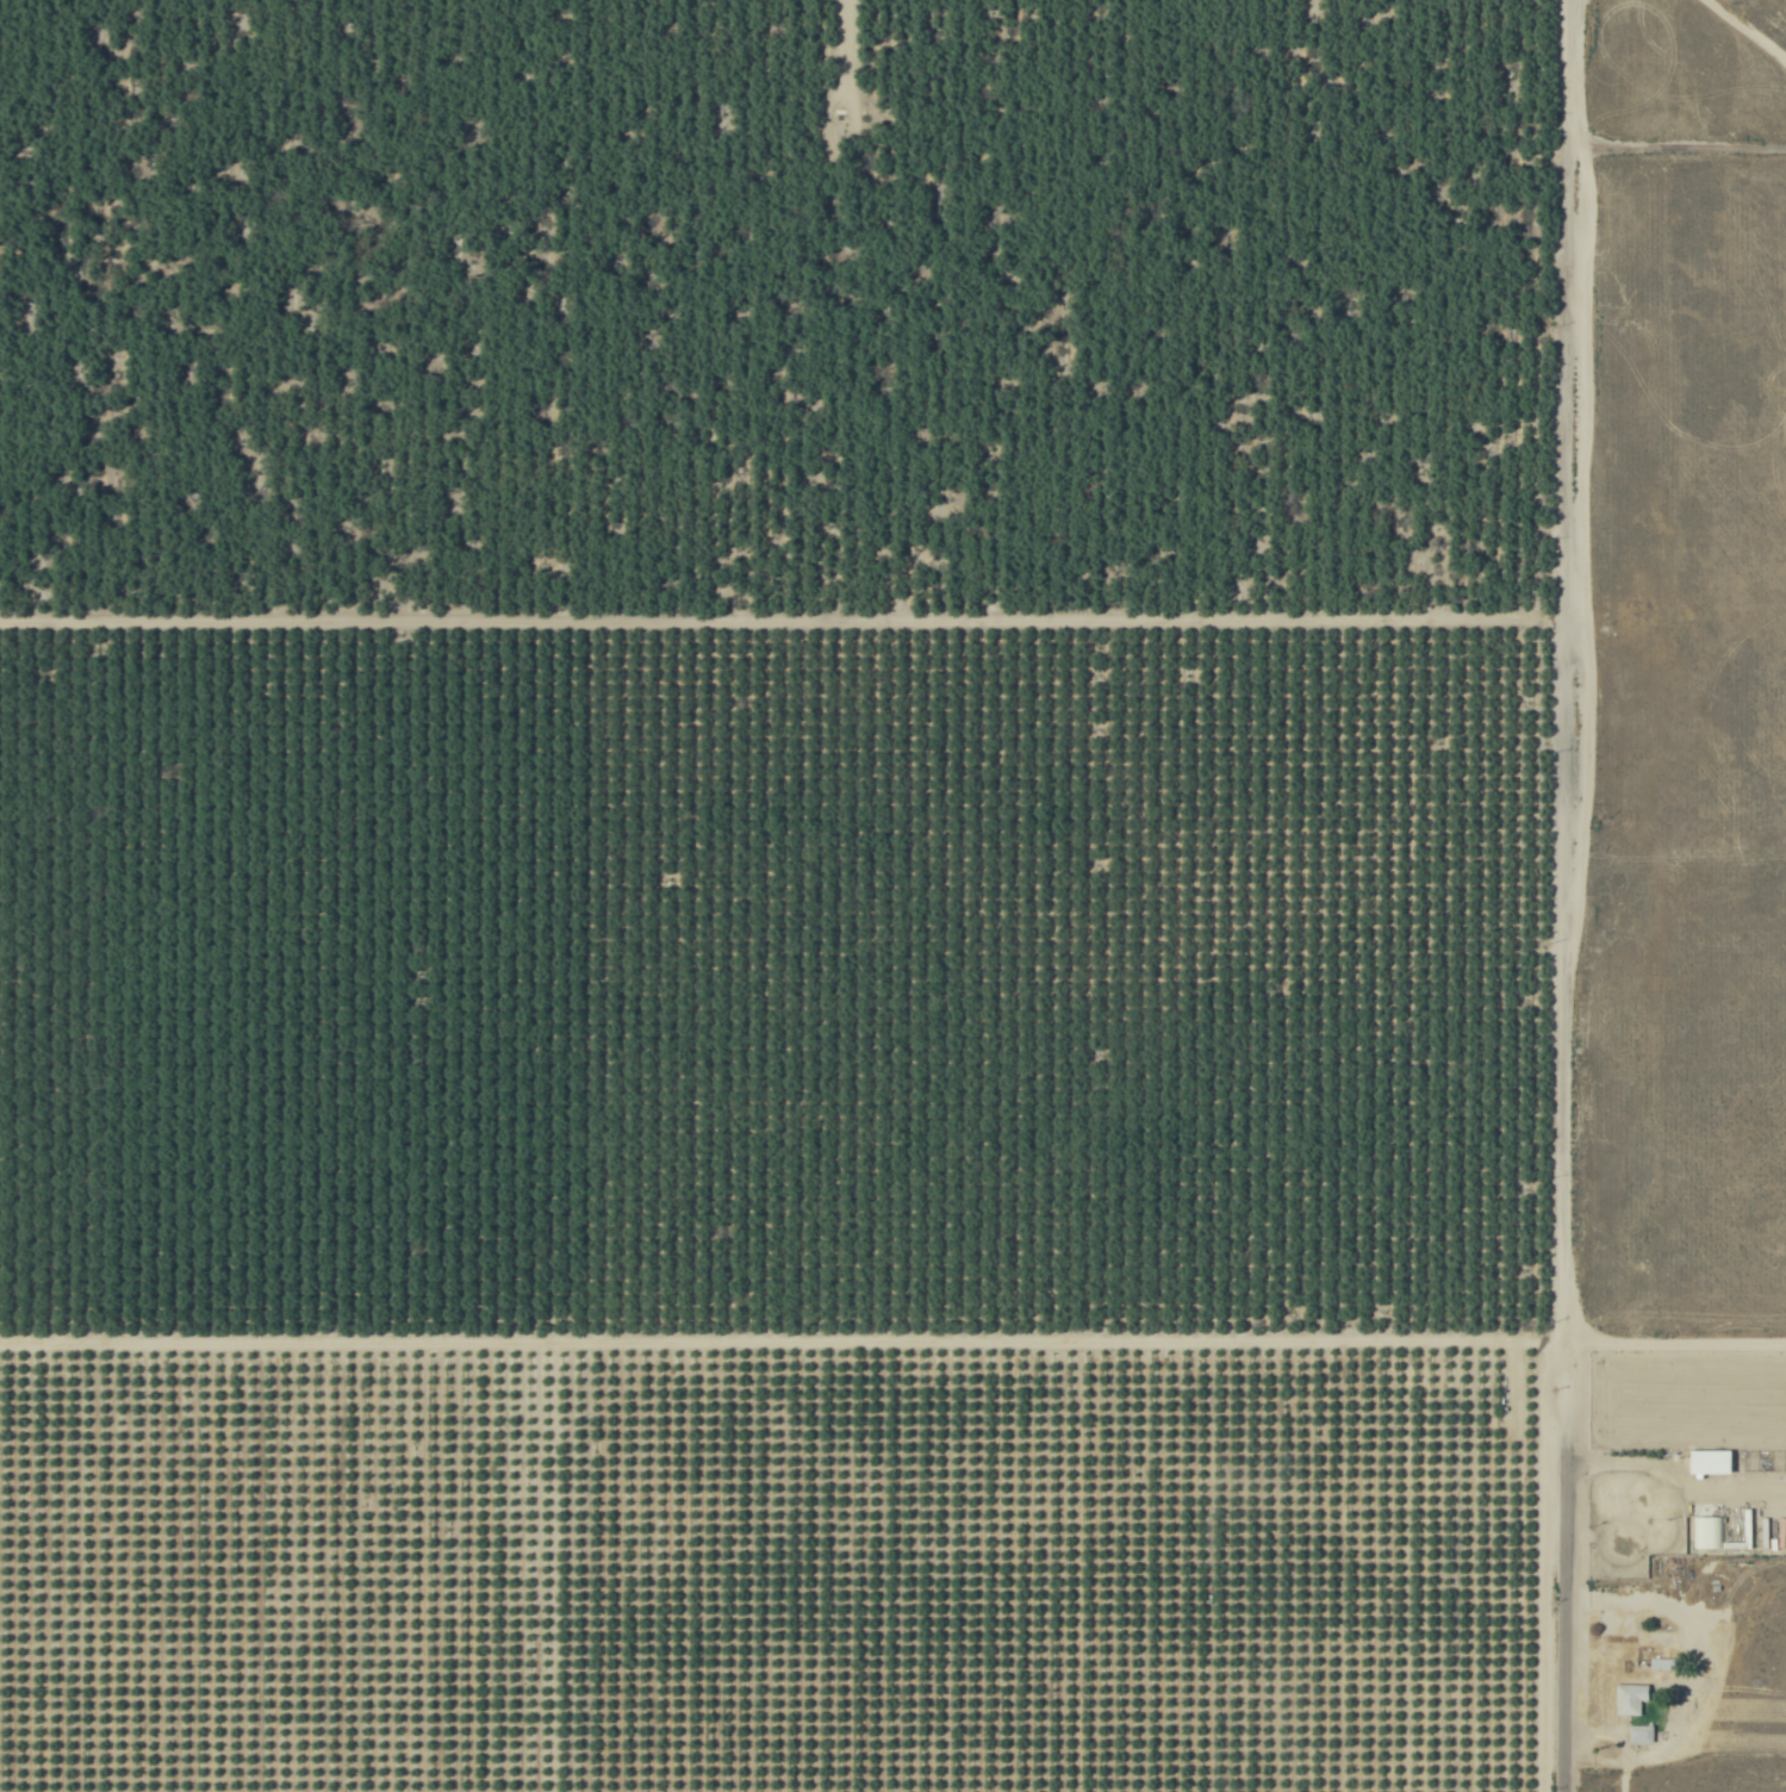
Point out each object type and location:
road: (1744, 30)
road: (1681, 147)
crop: (892, 896)
road: (1576, 896)
road: (892, 1339)
building: (1710, 1461)
road: (554, 1567)
building: (1662, 1663)
building: (1630, 1698)
building: (1641, 1732)

